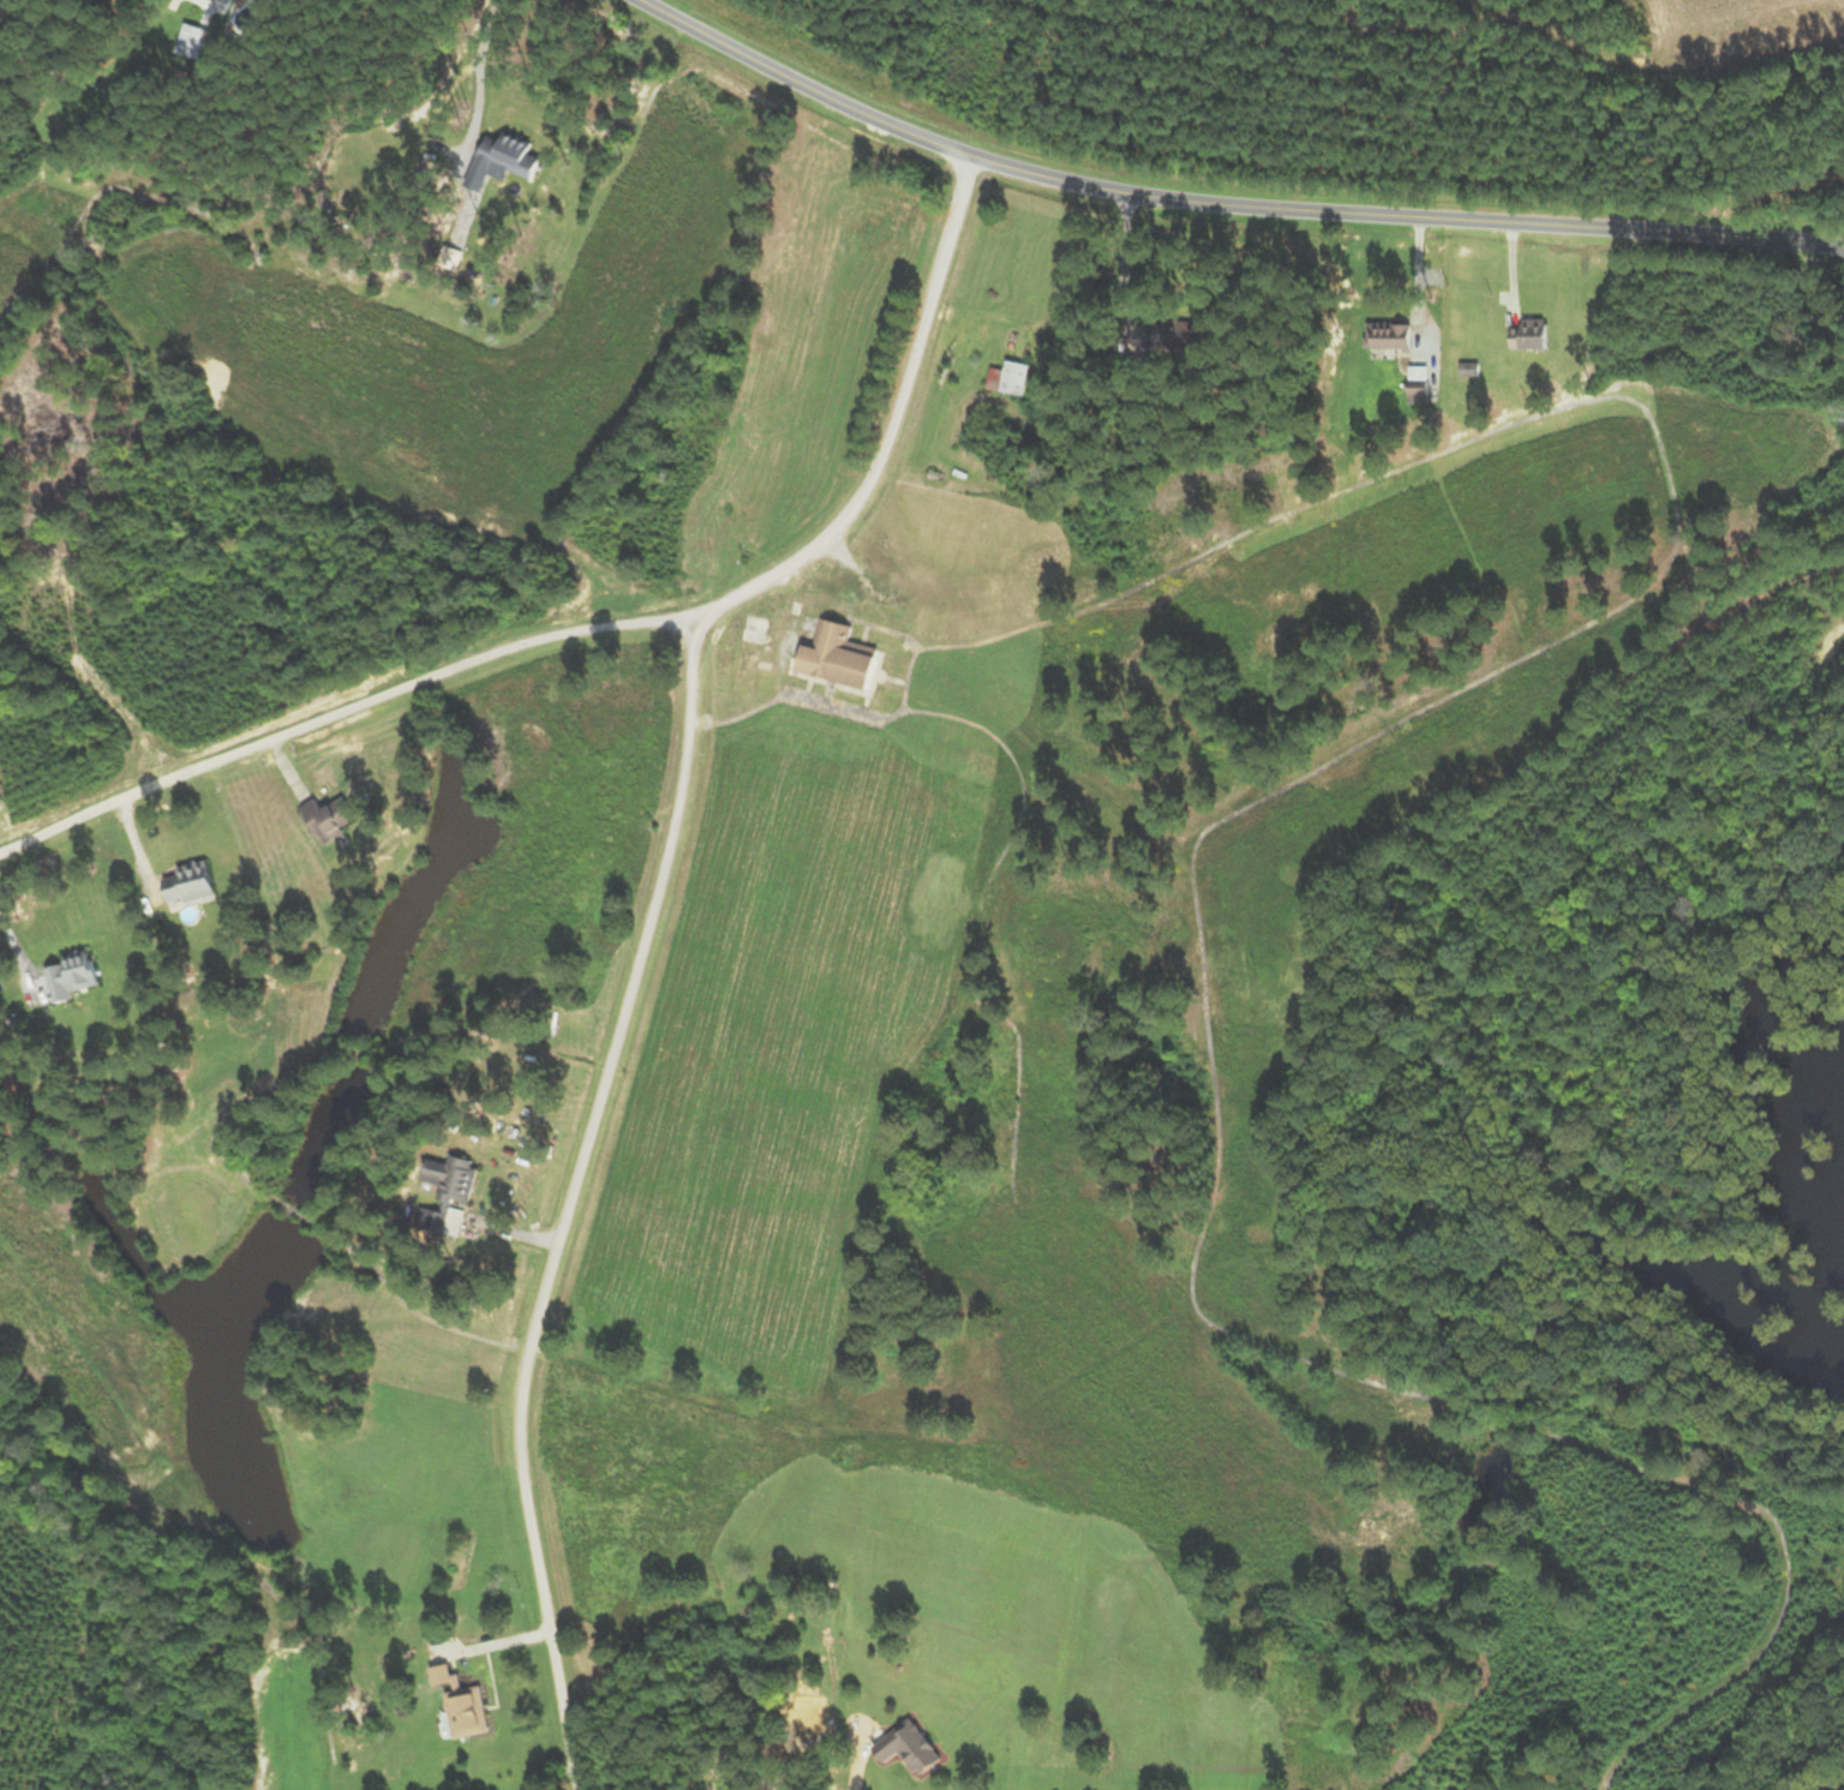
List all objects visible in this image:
building: (1, 0)
road: (491, 23)
building: (193, 42)
road: (447, 146)
building: (497, 157)
road: (1219, 204)
building: (1394, 335)
building: (1180, 336)
building: (1531, 336)
building: (1010, 379)
building: (1420, 384)
building: (1038, 479)
road: (609, 628)
building: (753, 652)
building: (825, 653)
building: (331, 819)
building: (191, 885)
building: (72, 978)
building: (451, 1195)
road: (576, 1201)
building: (442, 1676)
building: (468, 1713)
building: (911, 1748)
road: (861, 1758)

